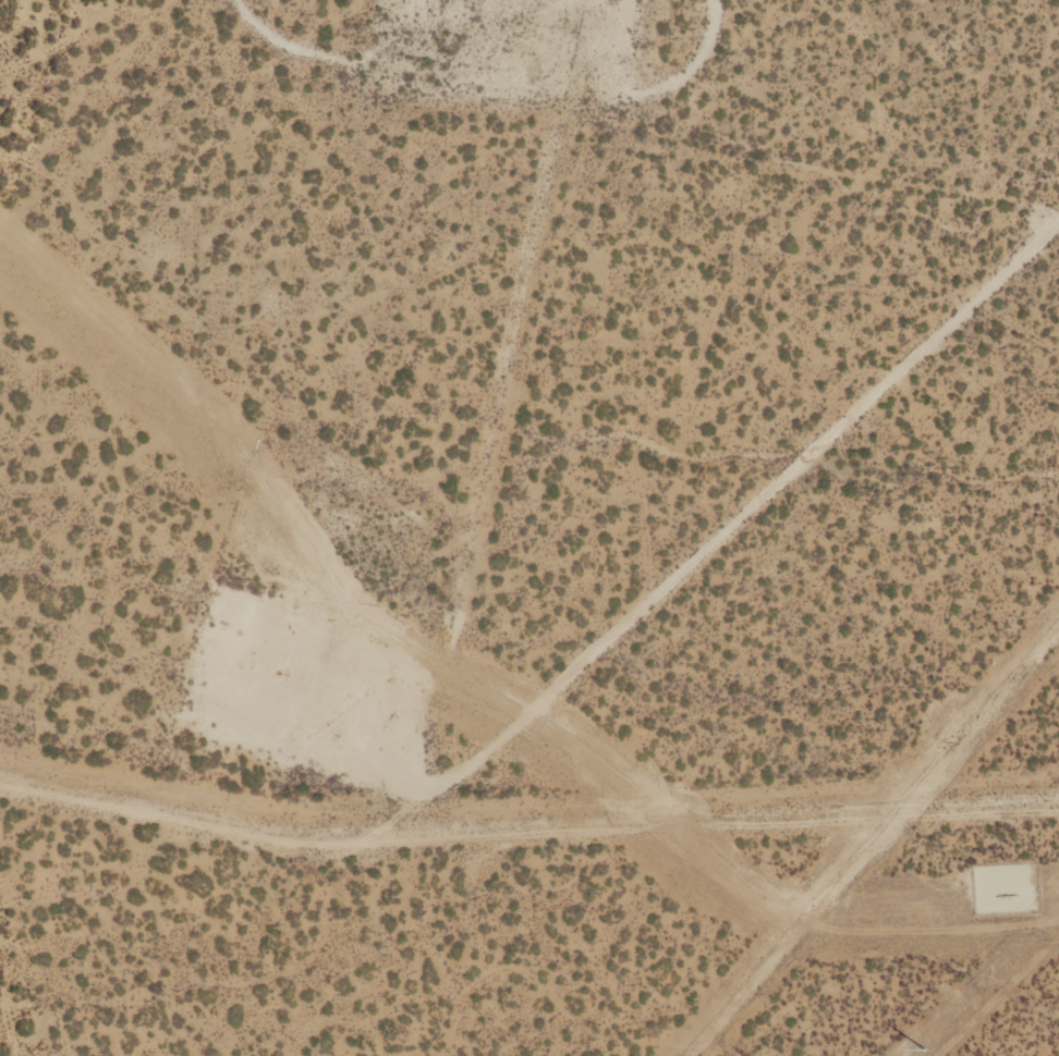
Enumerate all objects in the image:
road: (448, 94)

